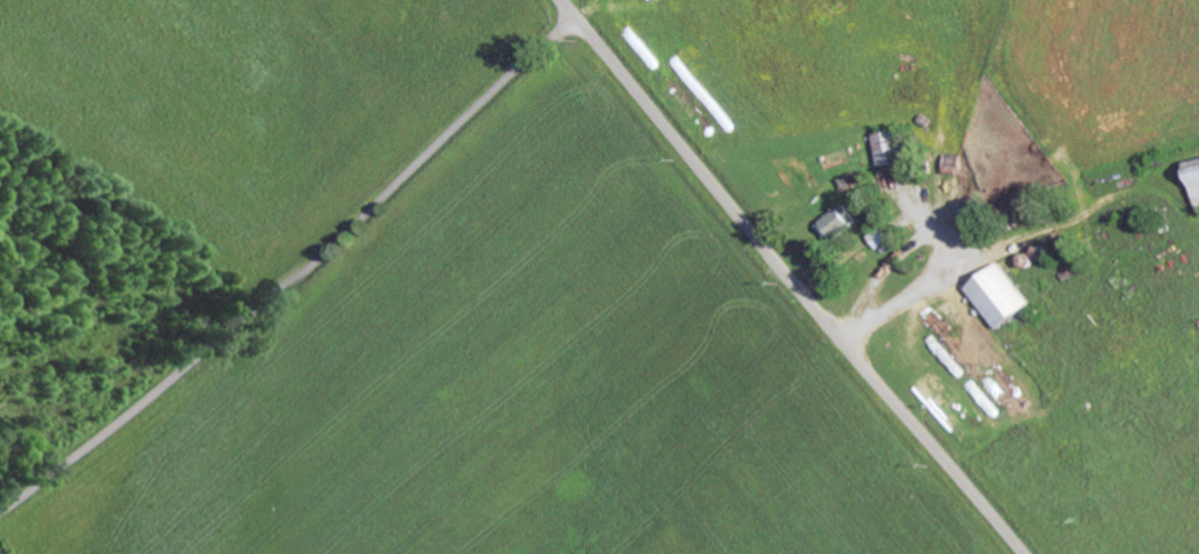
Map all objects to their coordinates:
building: (891, 146)
building: (1197, 175)
building: (839, 222)
building: (884, 237)
road: (792, 278)
road: (297, 279)
building: (1005, 296)

